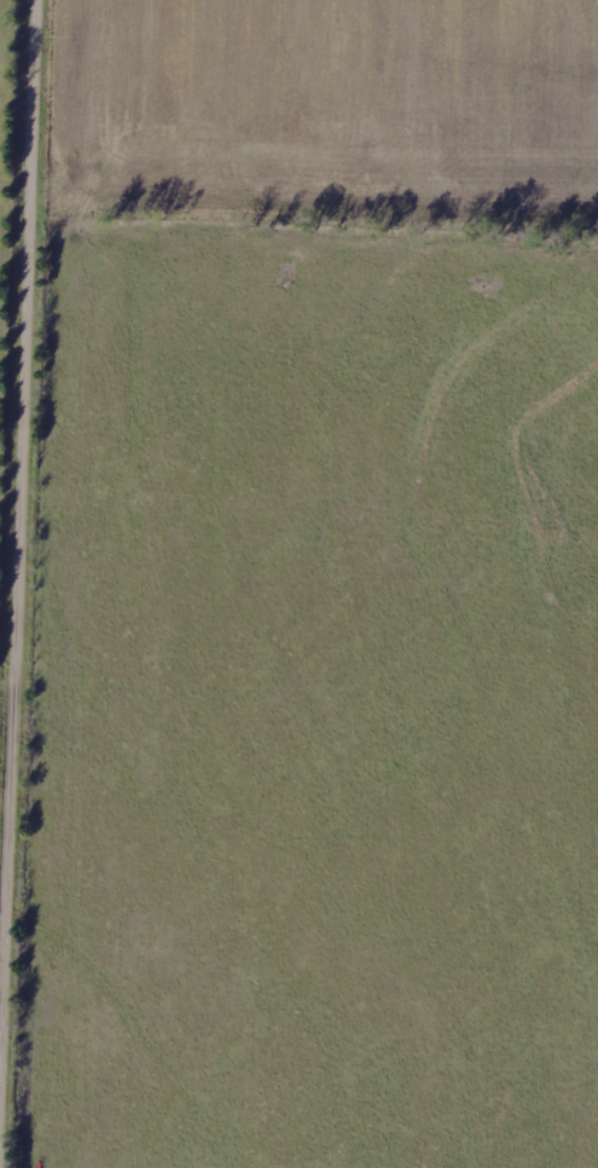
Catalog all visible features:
road: (25, 583)
road: (395, 1012)

